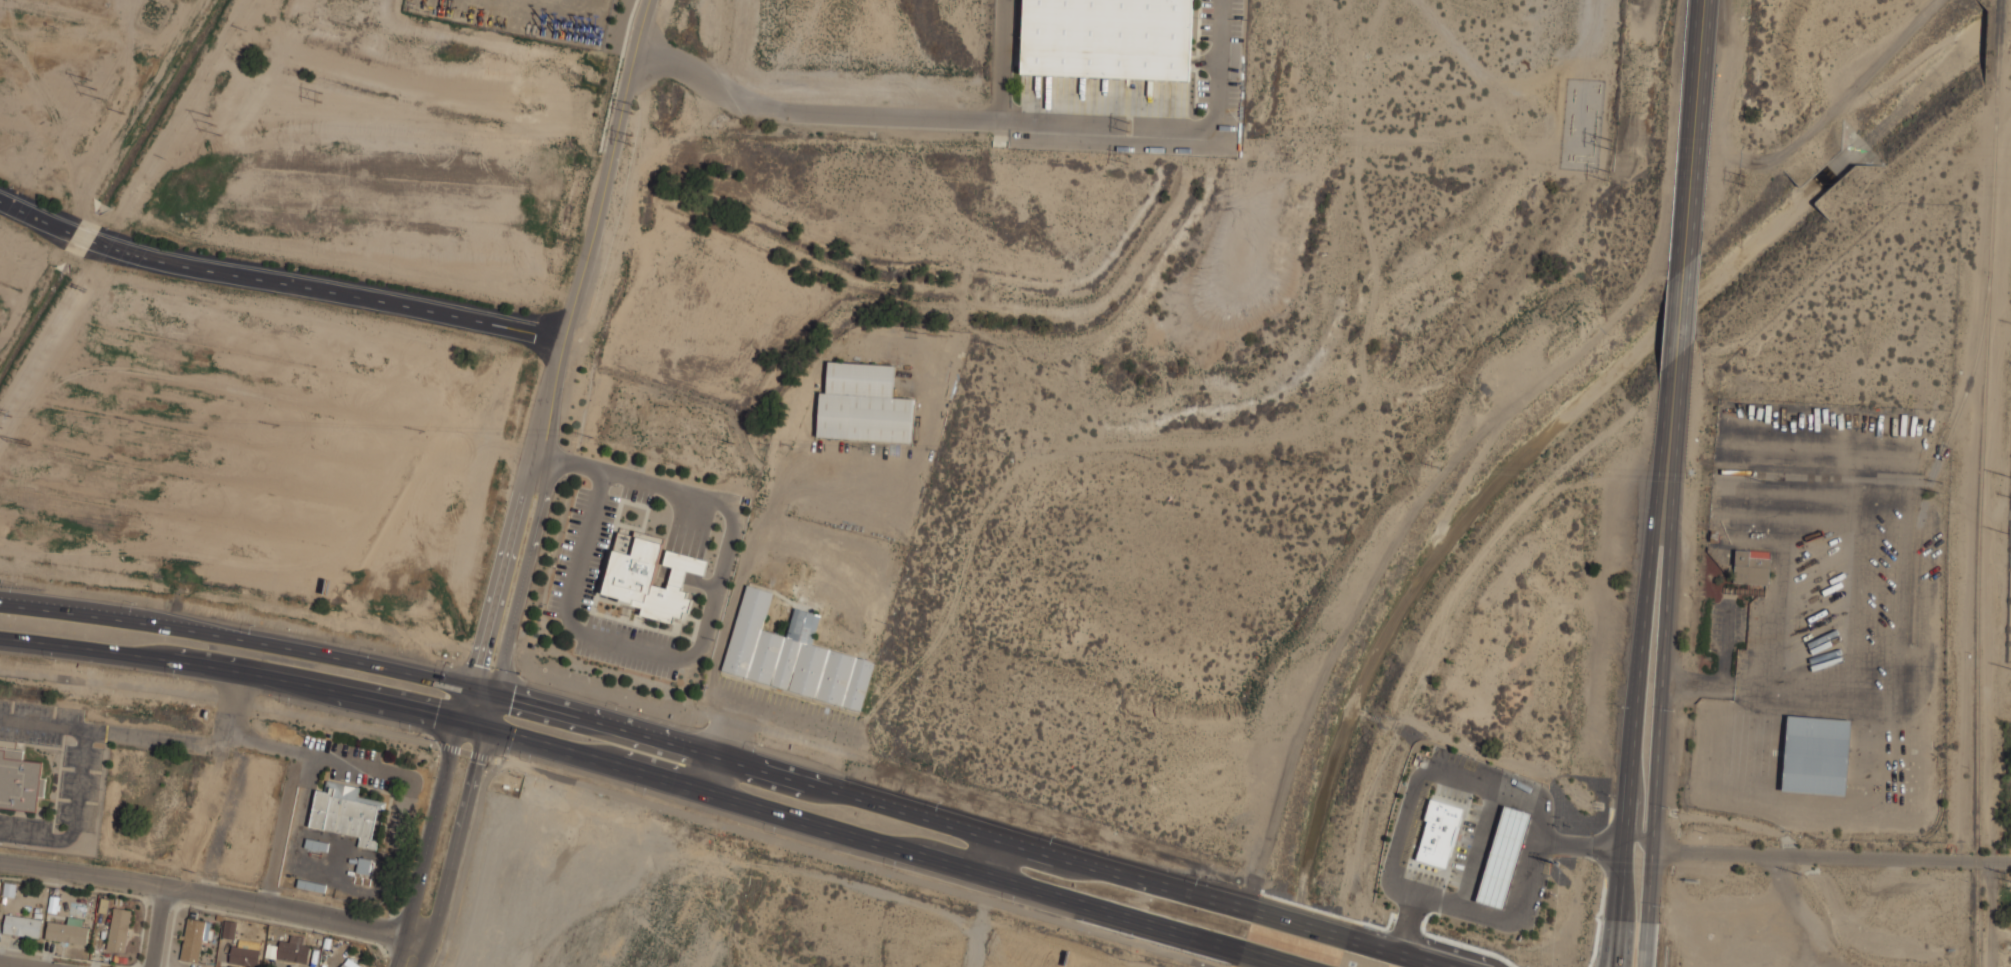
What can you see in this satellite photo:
building: (1107, 38)
railway: (1999, 43)
power tower: (84, 79)
power tower: (315, 95)
power tower: (641, 107)
road: (916, 111)
power tower: (1121, 121)
power tower: (213, 125)
road: (1690, 136)
power tower: (637, 139)
power tower: (1613, 147)
power tower: (1123, 157)
road: (609, 169)
power tower: (1740, 181)
power tower: (1615, 182)
road: (277, 282)
road: (1677, 313)
road: (551, 403)
building: (862, 405)
road: (1670, 422)
power tower: (18, 444)
railway: (1940, 454)
railway: (1980, 526)
road: (744, 558)
building: (1751, 566)
road: (502, 576)
road: (525, 581)
building: (790, 583)
building: (635, 586)
road: (21, 603)
road: (705, 629)
power substation: (2010, 629)
road: (236, 639)
building: (792, 655)
road: (231, 670)
traffic signals: (472, 687)
road: (485, 690)
traffic signals: (498, 694)
road: (466, 703)
road: (492, 711)
road: (788, 715)
traffic signals: (460, 720)
road: (473, 724)
road: (720, 727)
road: (1635, 727)
traffic signals: (487, 728)
road: (1658, 728)
road: (114, 733)
road: (318, 756)
building: (1815, 757)
road: (709, 774)
building: (19, 780)
parking lot: (366, 781)
road: (612, 794)
road: (876, 804)
road: (1639, 804)
building: (343, 812)
road: (75, 818)
road: (279, 826)
road: (430, 827)
building: (1438, 832)
road: (457, 836)
road: (864, 839)
building: (316, 844)
road: (1793, 854)
building: (1503, 856)
gas station: (1503, 856)
road: (995, 858)
road: (1973, 859)
building: (363, 864)
power tower: (1558, 866)
building: (311, 884)
road: (207, 894)
building: (21, 924)
road: (161, 926)
road: (1301, 927)
building: (118, 929)
building: (229, 929)
building: (67, 930)
building: (193, 940)
building: (293, 950)
road: (409, 951)
road: (1390, 954)
building: (244, 956)
road: (1265, 960)
building: (350, 963)
road: (11, 965)

